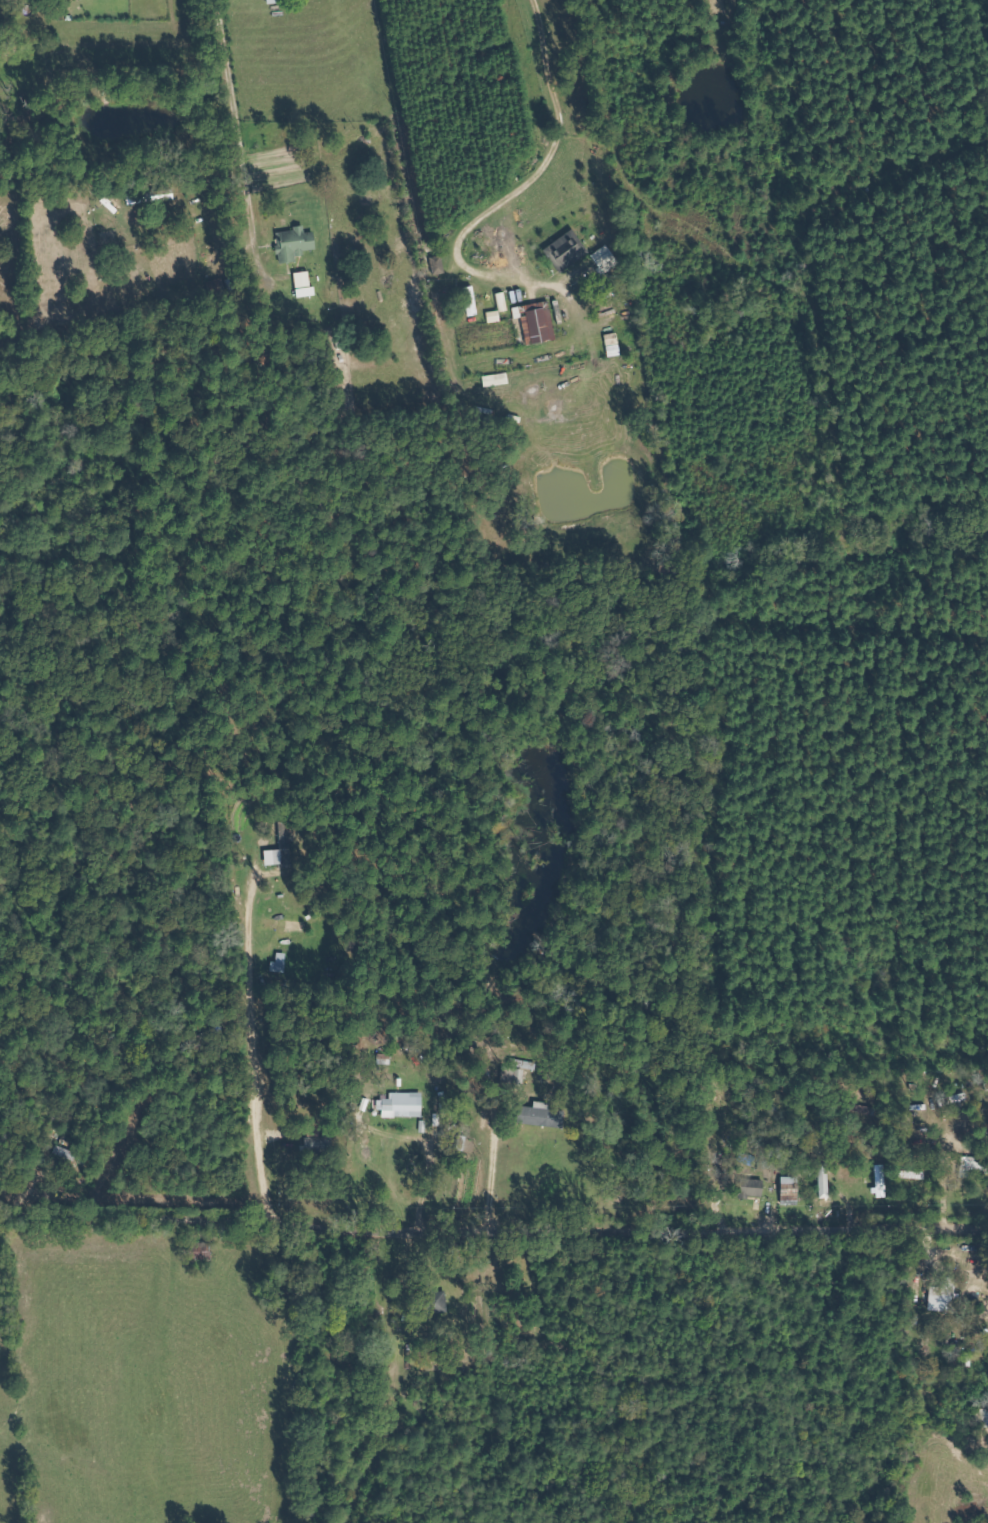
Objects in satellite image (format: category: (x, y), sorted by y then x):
building: (274, 1)
building: (165, 194)
building: (296, 243)
building: (570, 249)
building: (607, 259)
building: (439, 265)
building: (472, 301)
building: (496, 316)
building: (540, 323)
building: (614, 345)
building: (275, 857)
building: (405, 1105)
building: (542, 1116)
building: (883, 1181)
building: (754, 1188)
building: (792, 1188)
road: (493, 1234)
building: (946, 1296)
building: (442, 1300)

